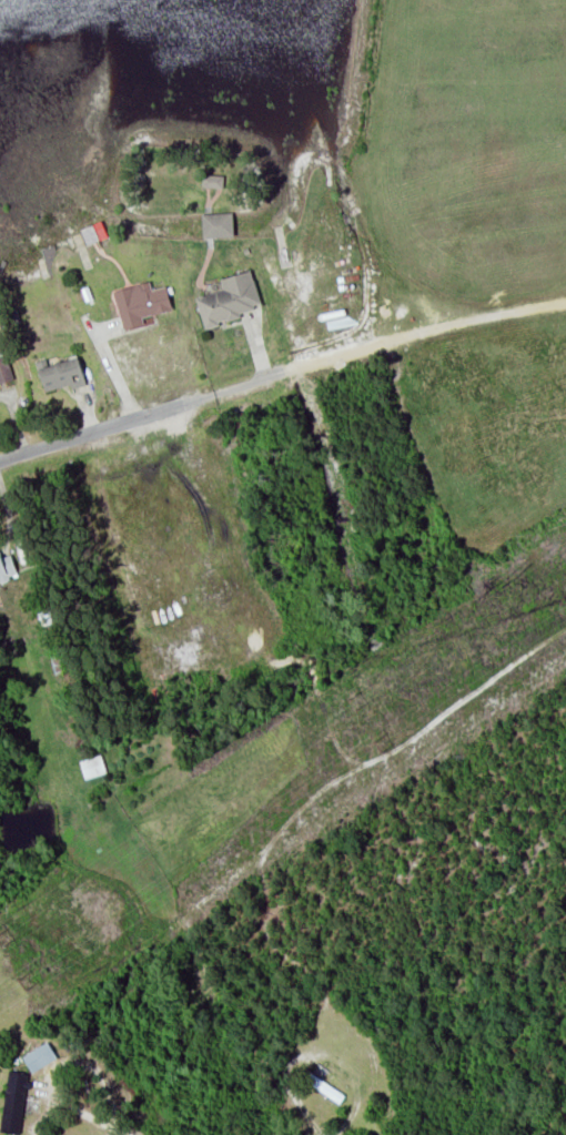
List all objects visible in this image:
building: (212, 180)
building: (216, 224)
building: (92, 232)
building: (228, 298)
building: (140, 302)
building: (3, 365)
road: (280, 371)
building: (6, 567)
power tower: (355, 698)
power tower: (381, 743)
power tower: (24, 981)
building: (39, 1056)
building: (13, 1101)

